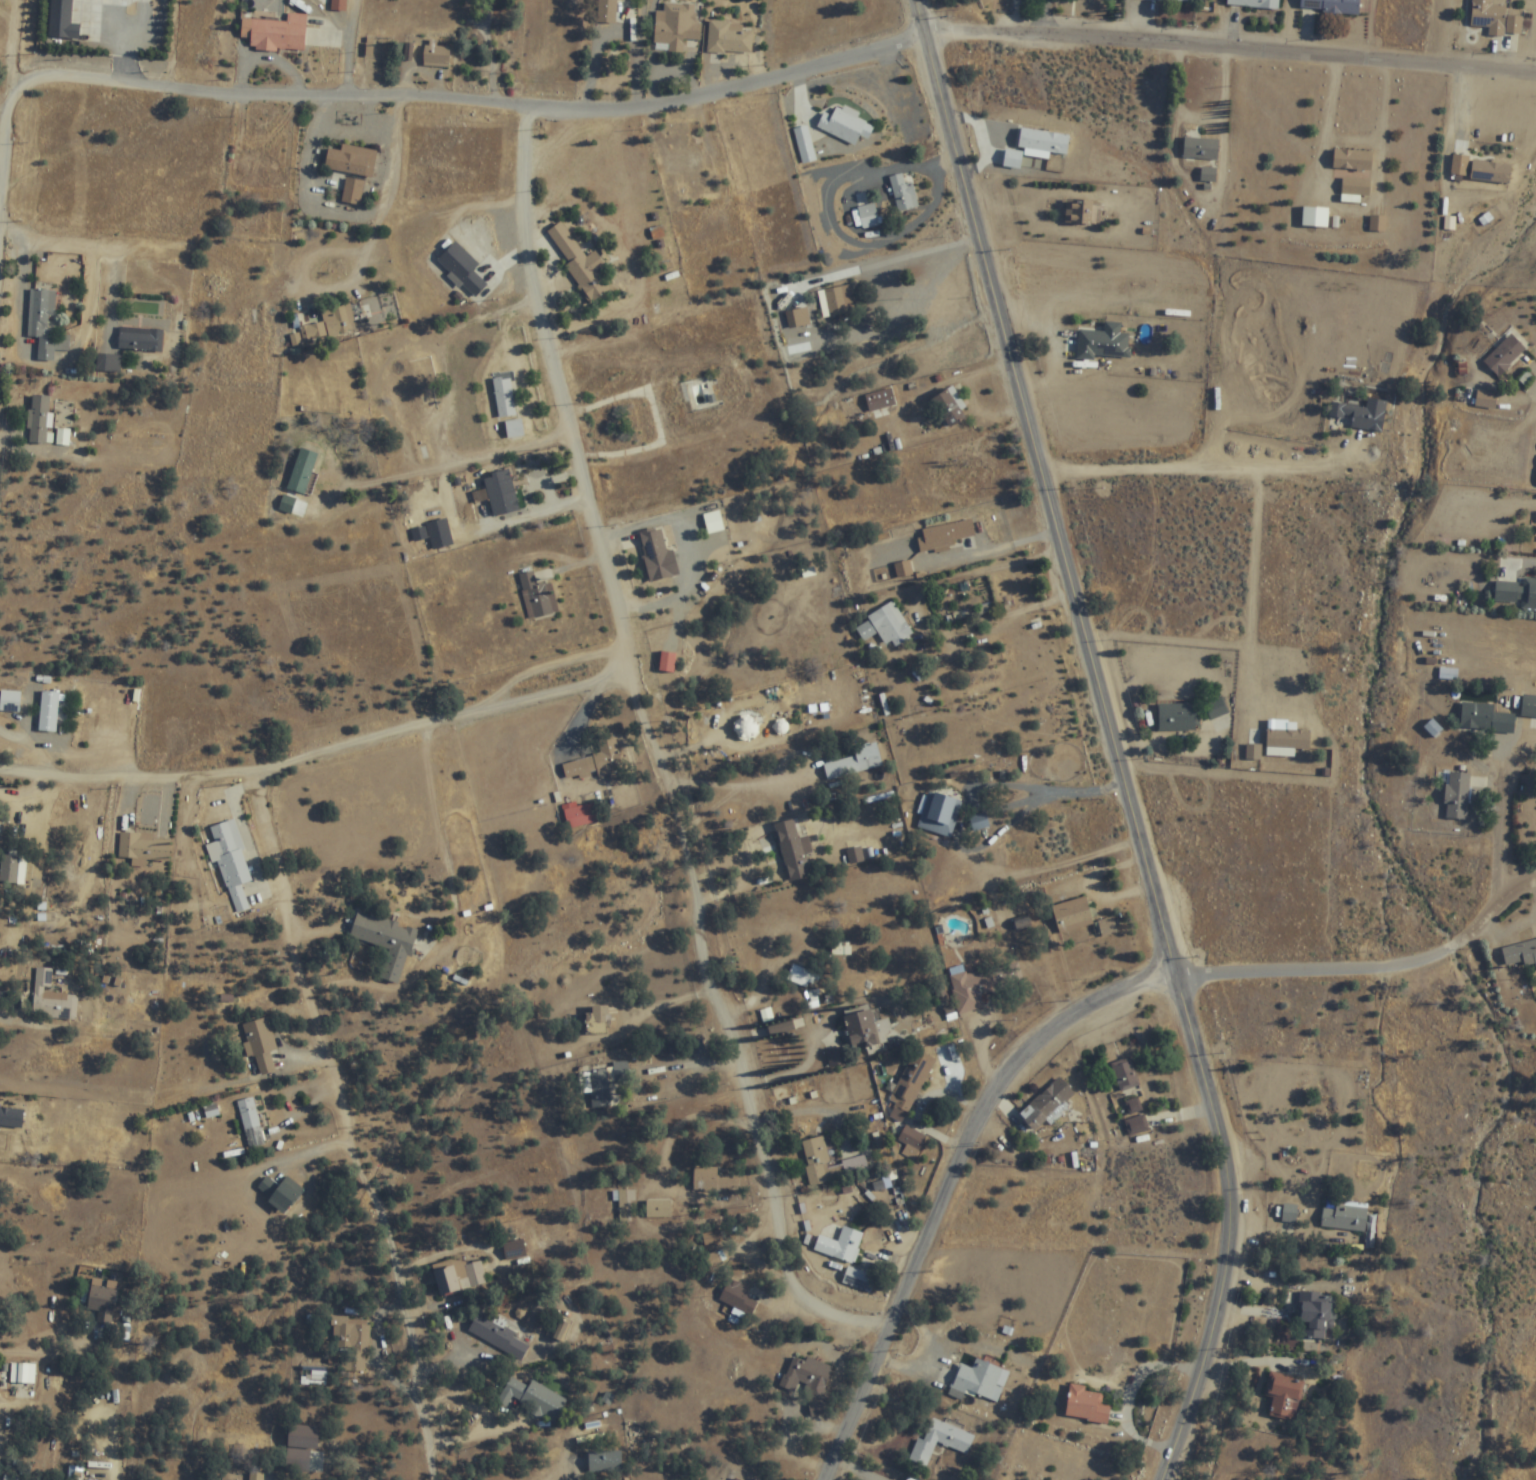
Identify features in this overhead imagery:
building: (1169, 1)
building: (1255, 4)
building: (1332, 6)
building: (606, 11)
building: (1489, 17)
building: (62, 21)
building: (1514, 25)
building: (677, 28)
road: (1316, 28)
building: (276, 34)
building: (729, 38)
building: (436, 53)
road: (1415, 67)
road: (738, 89)
road: (15, 96)
building: (845, 126)
building: (1043, 142)
building: (805, 145)
building: (1200, 148)
building: (1012, 159)
building: (1352, 160)
building: (351, 161)
building: (1459, 165)
building: (682, 166)
building: (256, 172)
building: (1490, 172)
building: (1208, 175)
building: (1355, 186)
building: (353, 192)
building: (903, 193)
building: (673, 197)
building: (867, 212)
building: (1077, 212)
building: (1315, 216)
building: (1377, 223)
building: (580, 265)
building: (462, 270)
building: (839, 302)
building: (797, 319)
building: (43, 323)
building: (327, 326)
building: (140, 340)
building: (1104, 344)
building: (1504, 356)
building: (108, 363)
building: (731, 390)
building: (410, 394)
building: (505, 398)
building: (1486, 400)
building: (879, 401)
building: (949, 408)
building: (674, 411)
building: (1361, 416)
building: (38, 420)
building: (517, 430)
road: (1191, 471)
building: (968, 478)
building: (492, 488)
road: (1047, 489)
building: (282, 503)
building: (713, 518)
building: (435, 528)
building: (945, 537)
building: (657, 557)
building: (903, 568)
building: (1517, 594)
building: (537, 596)
building: (890, 623)
building: (1448, 673)
building: (1216, 708)
building: (49, 711)
building: (1177, 716)
building: (1481, 717)
building: (749, 722)
building: (1285, 738)
building: (1253, 751)
road: (658, 753)
road: (319, 755)
building: (855, 761)
building: (593, 762)
building: (1457, 795)
road: (1502, 808)
building: (939, 814)
building: (581, 815)
building: (979, 822)
building: (144, 847)
building: (793, 850)
building: (231, 862)
building: (9, 869)
building: (1073, 915)
building: (385, 942)
building: (1520, 955)
road: (1371, 970)
building: (969, 991)
building: (51, 998)
building: (599, 1014)
building: (861, 1035)
building: (261, 1044)
building: (1125, 1074)
building: (598, 1087)
building: (1046, 1103)
building: (1134, 1105)
building: (211, 1111)
building: (905, 1112)
building: (2, 1120)
building: (251, 1123)
building: (1137, 1125)
road: (349, 1132)
building: (829, 1162)
building: (712, 1179)
road: (947, 1182)
building: (281, 1193)
building: (658, 1208)
building: (1345, 1218)
road: (1233, 1230)
building: (841, 1245)
building: (514, 1250)
building: (459, 1276)
building: (859, 1280)
building: (738, 1297)
building: (102, 1303)
building: (1315, 1316)
building: (497, 1336)
building: (349, 1343)
building: (22, 1373)
building: (807, 1380)
building: (979, 1381)
building: (1284, 1396)
building: (532, 1400)
building: (1086, 1405)
building: (940, 1441)
building: (300, 1448)
building: (735, 1479)

